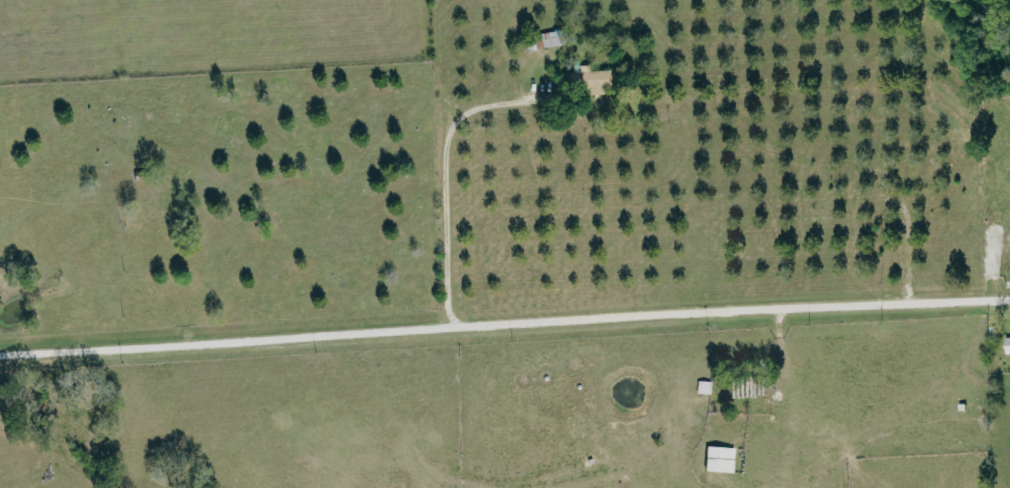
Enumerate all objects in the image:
building: (542, 40)
building: (593, 79)
road: (504, 326)
building: (1006, 344)
building: (703, 386)
building: (719, 458)

